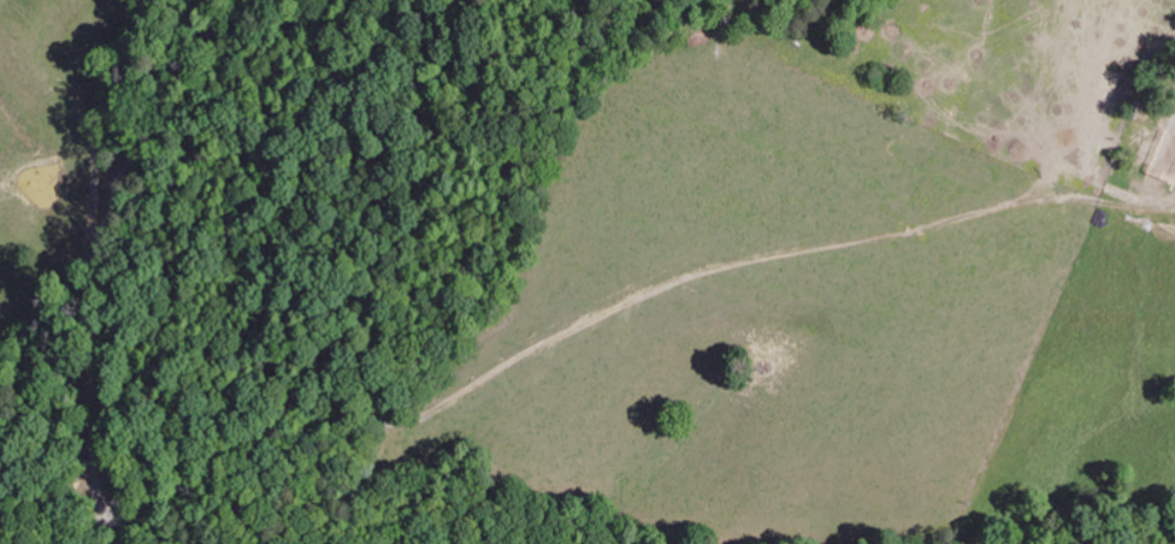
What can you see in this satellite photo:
building: (1163, 154)
road: (1147, 199)

